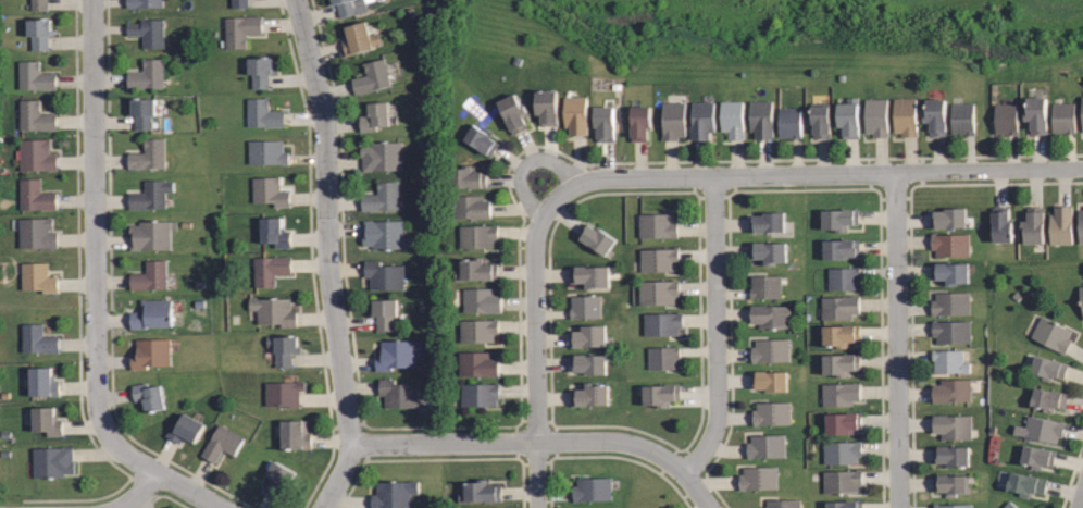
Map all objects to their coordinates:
building: (146, 3)
building: (241, 4)
building: (39, 7)
building: (350, 7)
building: (241, 29)
building: (41, 30)
building: (148, 32)
building: (360, 38)
building: (260, 73)
building: (151, 75)
building: (37, 76)
building: (372, 77)
building: (1082, 99)
building: (547, 107)
building: (144, 112)
building: (513, 112)
building: (264, 114)
building: (576, 114)
building: (1035, 114)
building: (37, 115)
building: (375, 115)
building: (848, 116)
building: (935, 116)
building: (1065, 116)
building: (877, 117)
building: (906, 117)
building: (733, 119)
building: (1006, 119)
building: (702, 120)
building: (761, 120)
building: (963, 120)
building: (674, 121)
building: (789, 121)
building: (820, 121)
building: (602, 122)
building: (639, 122)
building: (478, 138)
building: (267, 152)
building: (151, 154)
building: (38, 156)
building: (381, 157)
road: (527, 164)
road: (817, 174)
building: (466, 177)
building: (270, 191)
building: (38, 195)
building: (151, 196)
building: (382, 198)
building: (471, 207)
building: (949, 218)
building: (837, 219)
road: (332, 220)
building: (768, 223)
building: (1001, 224)
building: (1062, 225)
building: (656, 226)
building: (1032, 226)
building: (1081, 226)
building: (383, 233)
building: (38, 234)
building: (274, 234)
building: (153, 235)
building: (478, 235)
building: (595, 238)
building: (949, 244)
building: (837, 248)
building: (767, 252)
building: (660, 258)
building: (272, 269)
building: (477, 270)
building: (950, 272)
building: (152, 275)
building: (384, 275)
building: (590, 276)
building: (40, 277)
building: (842, 278)
road: (101, 286)
building: (767, 287)
building: (1082, 290)
building: (659, 292)
building: (481, 300)
building: (949, 302)
building: (584, 306)
building: (839, 307)
building: (272, 312)
building: (155, 313)
building: (384, 313)
building: (771, 317)
building: (661, 324)
building: (480, 329)
road: (715, 329)
building: (949, 331)
building: (1051, 334)
building: (589, 336)
building: (841, 336)
building: (39, 339)
road: (897, 340)
building: (283, 349)
road: (536, 349)
building: (772, 350)
building: (153, 354)
building: (396, 355)
building: (664, 358)
building: (947, 361)
building: (477, 363)
building: (590, 363)
building: (839, 363)
building: (1048, 368)
building: (771, 380)
building: (46, 384)
building: (950, 389)
building: (283, 393)
building: (839, 394)
building: (398, 395)
building: (478, 395)
building: (590, 395)
building: (661, 395)
building: (149, 397)
building: (1047, 400)
building: (772, 413)
building: (46, 421)
building: (842, 423)
building: (954, 426)
building: (1041, 429)
building: (185, 430)
building: (296, 434)
road: (545, 441)
building: (222, 444)
building: (765, 446)
building: (842, 450)
building: (951, 455)
building: (1034, 457)
building: (53, 461)
road: (347, 476)
building: (758, 478)
building: (278, 479)
building: (841, 480)
building: (1023, 484)
building: (951, 485)
building: (592, 488)
road: (148, 492)
building: (482, 492)
building: (393, 495)
road: (1081, 501)
building: (783, 504)
building: (845, 504)
building: (1009, 505)
building: (951, 506)

